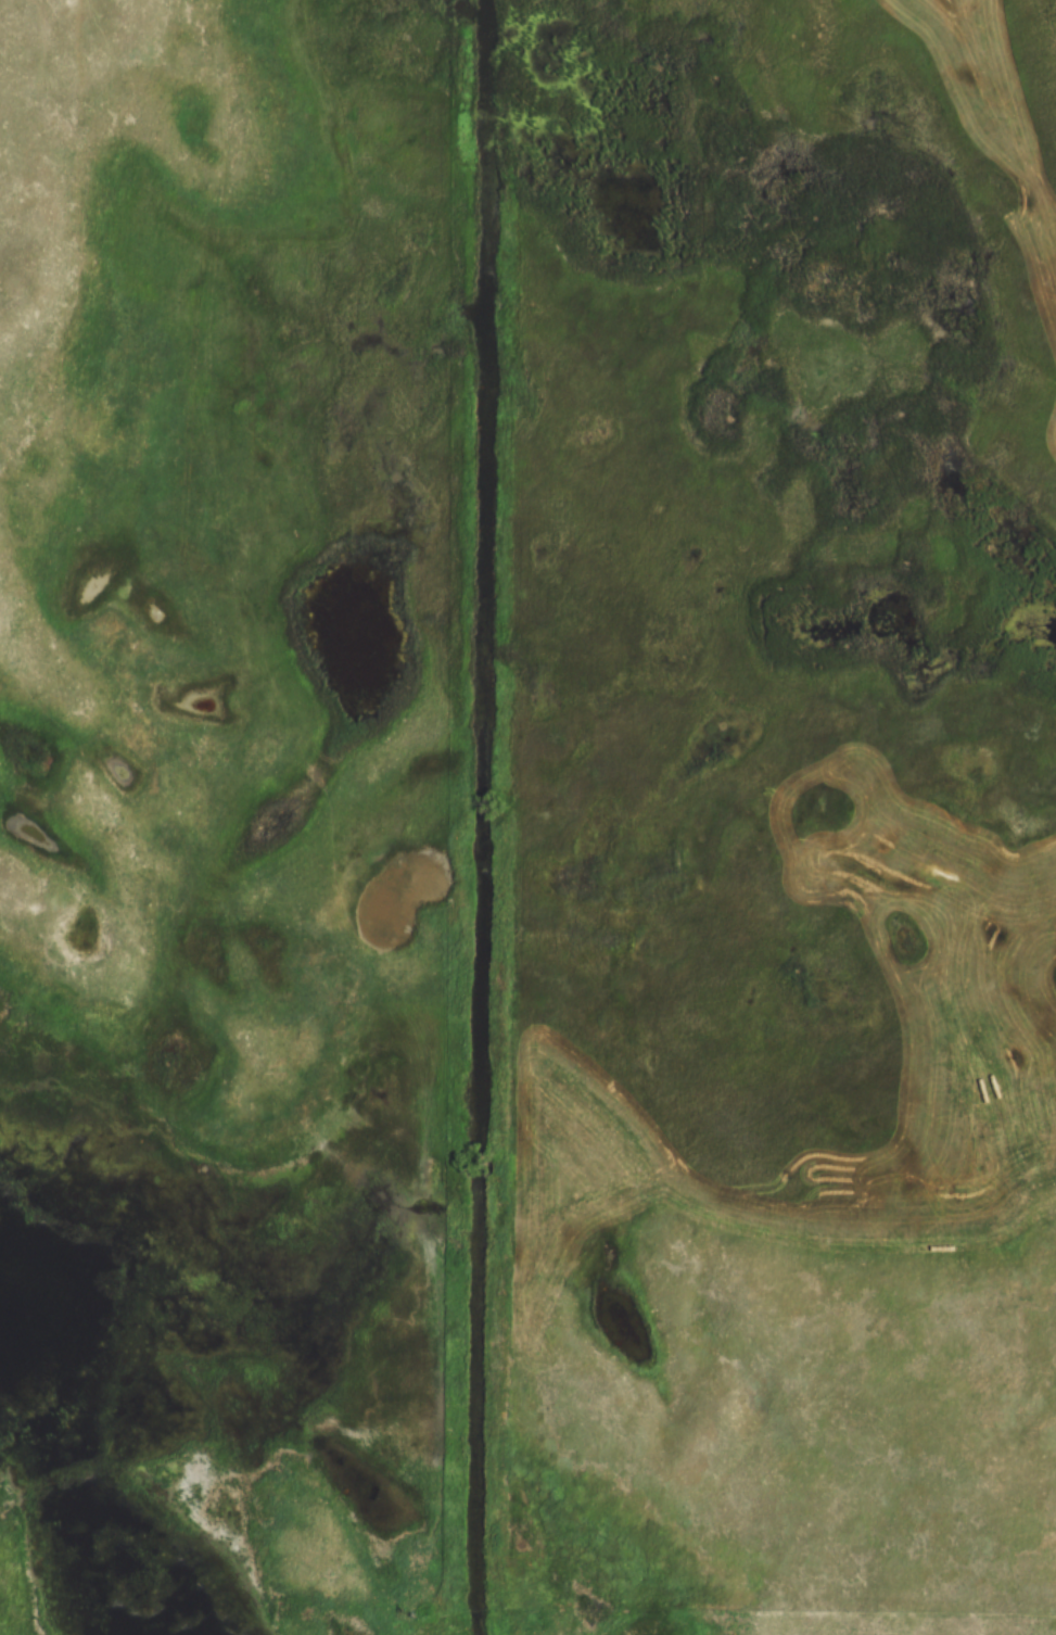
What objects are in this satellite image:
airport runway: (987, 41)

